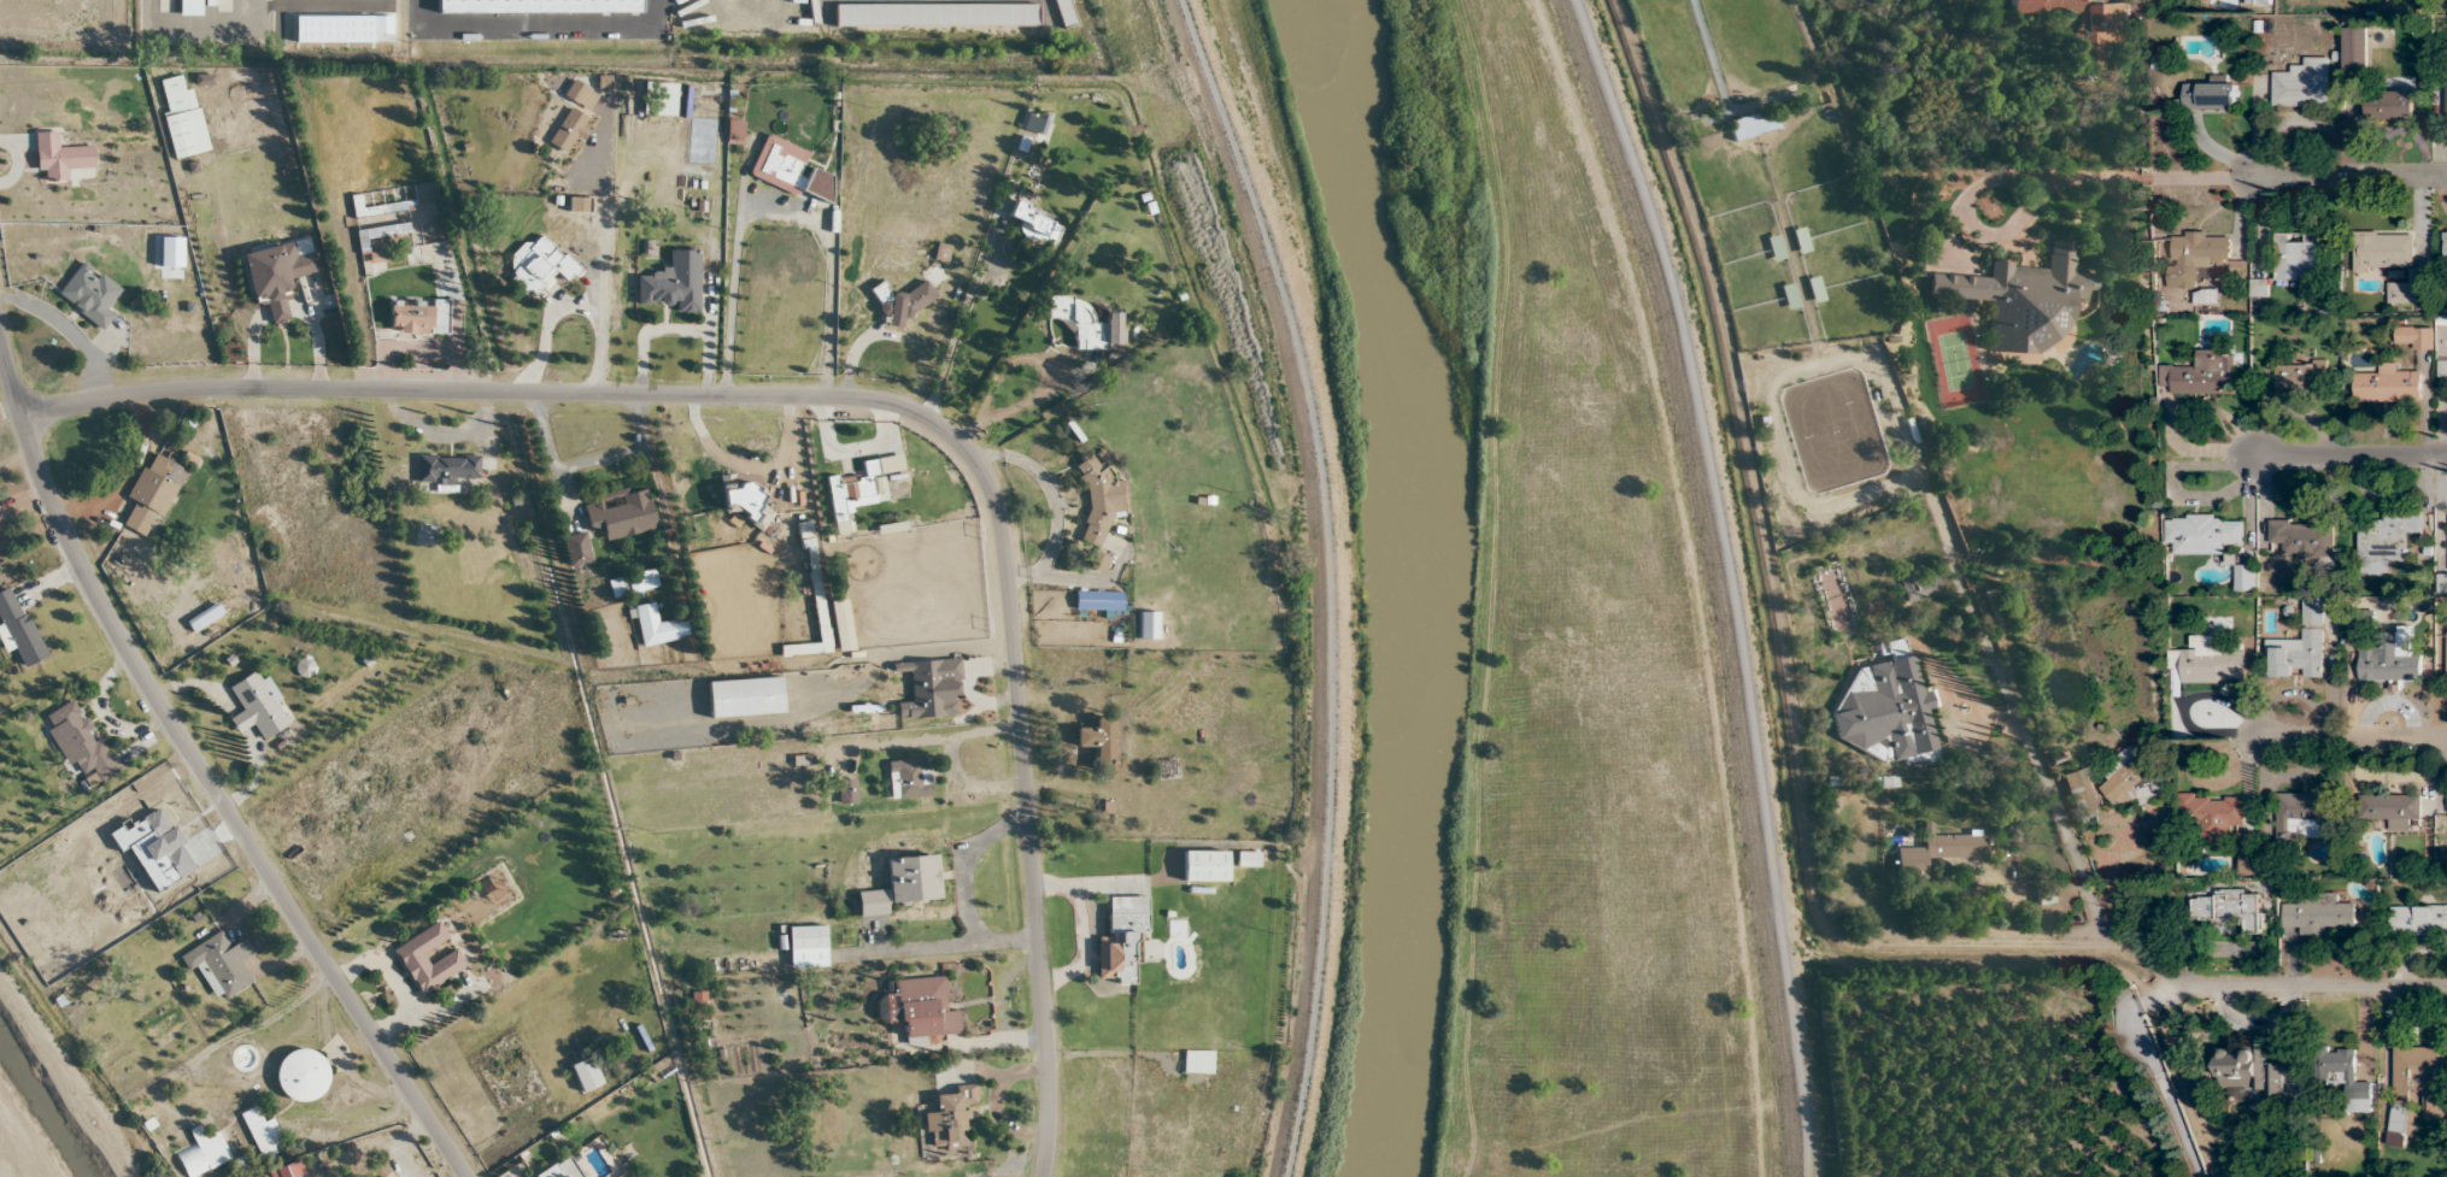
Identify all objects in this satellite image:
building: (2255, 2)
building: (538, 6)
building: (2079, 20)
building: (2355, 48)
building: (2302, 84)
building: (171, 93)
building: (2211, 95)
building: (2446, 95)
building: (2390, 106)
building: (1753, 125)
building: (568, 129)
building: (177, 135)
road: (2169, 152)
building: (58, 157)
building: (788, 169)
road: (2002, 177)
road: (2216, 177)
road: (2349, 177)
road: (770, 204)
building: (1034, 222)
building: (2445, 246)
building: (2195, 255)
building: (2298, 257)
building: (2390, 263)
building: (539, 265)
building: (275, 275)
building: (671, 282)
building: (88, 294)
building: (2206, 298)
building: (2021, 299)
building: (900, 300)
road: (963, 301)
road: (571, 306)
building: (418, 317)
building: (1076, 323)
road: (673, 330)
building: (2414, 337)
building: (2202, 375)
building: (2300, 375)
building: (2387, 386)
road: (8, 388)
road: (427, 389)
road: (2349, 457)
road: (585, 459)
road: (743, 463)
building: (446, 469)
building: (862, 485)
building: (151, 493)
building: (1097, 498)
building: (745, 502)
building: (620, 514)
building: (2205, 534)
building: (2302, 537)
building: (2384, 540)
road: (1316, 577)
building: (2244, 577)
road: (1729, 578)
building: (632, 583)
building: (2442, 584)
river: (1428, 585)
building: (1921, 585)
building: (1097, 600)
building: (2312, 611)
building: (203, 618)
building: (1146, 625)
building: (656, 626)
building: (17, 629)
building: (2296, 655)
building: (2446, 657)
building: (2208, 661)
building: (2387, 666)
building: (929, 688)
road: (2006, 690)
building: (1096, 736)
road: (2351, 737)
building: (1167, 767)
building: (2134, 777)
building: (908, 778)
building: (2083, 794)
building: (2392, 810)
building: (2211, 816)
building: (2300, 816)
building: (1936, 852)
building: (1246, 859)
road: (963, 888)
building: (2043, 895)
building: (2230, 911)
building: (2319, 914)
building: (2418, 920)
building: (1119, 938)
road: (1944, 948)
road: (2308, 977)
building: (1196, 1063)
building: (2251, 1069)
road: (2152, 1072)
building: (2343, 1077)
building: (2417, 1089)
building: (946, 1120)

